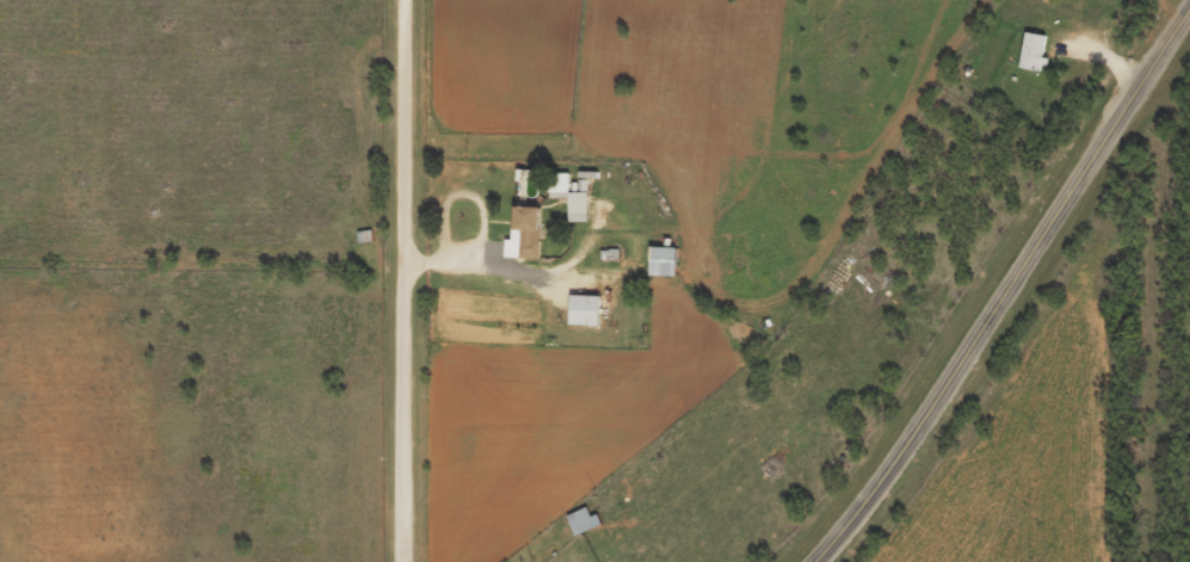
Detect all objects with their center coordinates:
building: (1034, 51)
building: (568, 196)
building: (524, 234)
building: (664, 261)
road: (403, 280)
road: (1011, 297)
building: (585, 310)
building: (584, 521)

